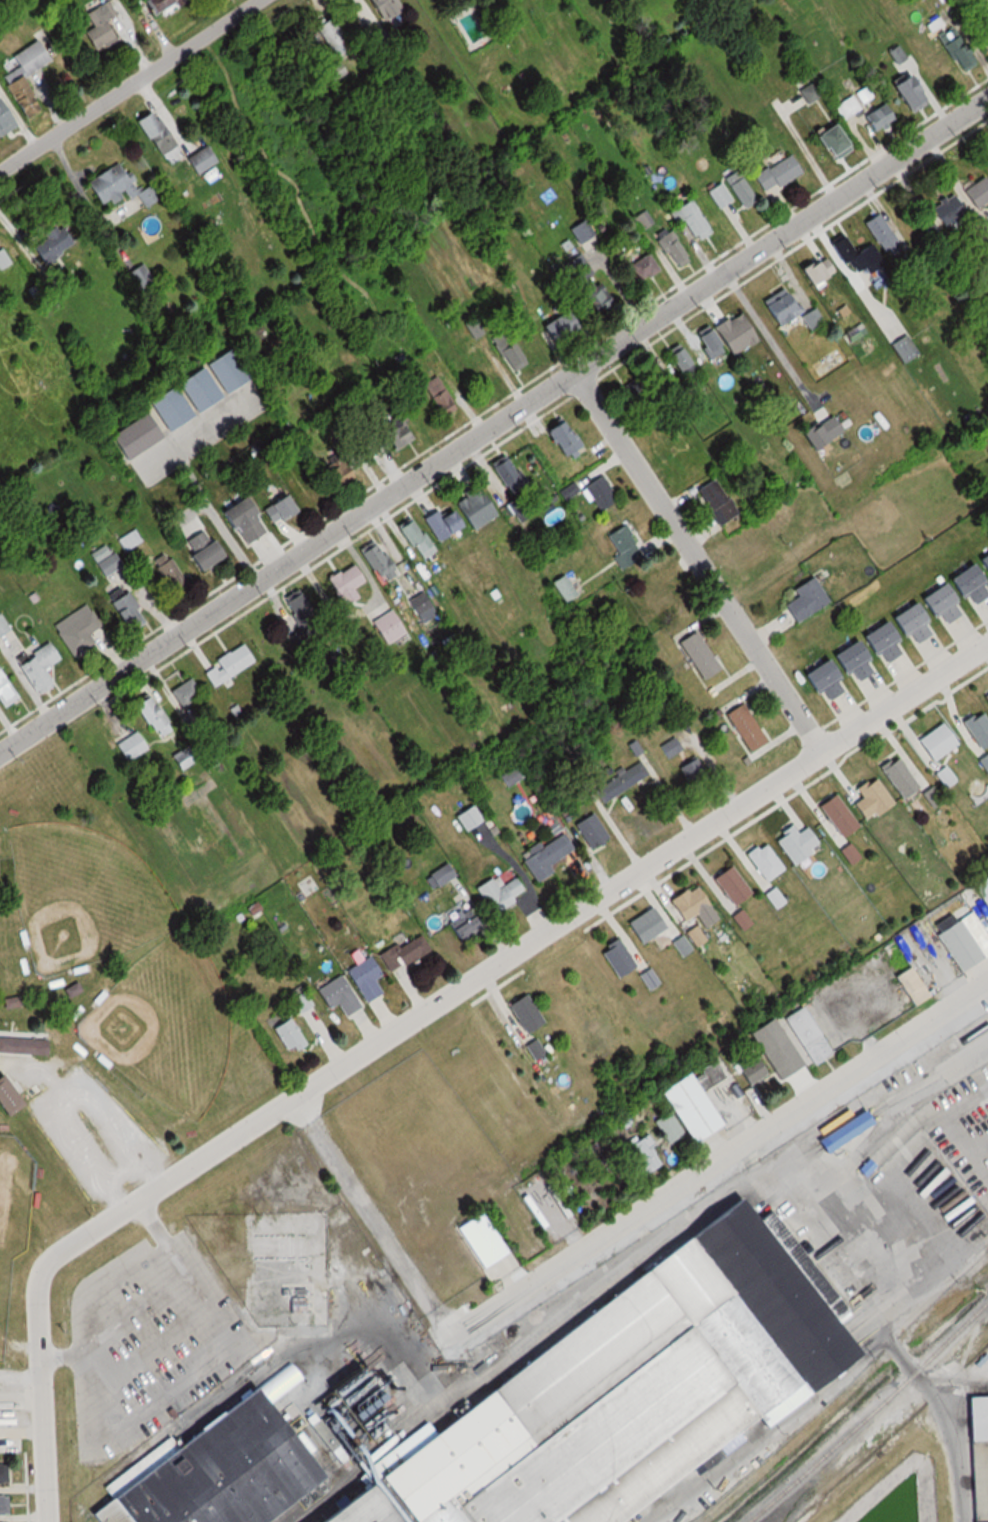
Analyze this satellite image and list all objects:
building: (987, 3)
building: (159, 5)
building: (382, 7)
building: (984, 22)
building: (98, 25)
building: (329, 34)
building: (955, 49)
building: (334, 71)
building: (24, 72)
road: (126, 83)
building: (904, 93)
building: (845, 108)
building: (876, 117)
building: (4, 119)
building: (155, 134)
building: (828, 141)
building: (198, 159)
building: (775, 173)
building: (115, 187)
building: (739, 189)
building: (976, 192)
building: (718, 195)
building: (947, 210)
building: (688, 217)
building: (581, 230)
building: (881, 234)
building: (50, 245)
building: (670, 249)
building: (856, 257)
building: (3, 259)
building: (641, 267)
building: (814, 269)
building: (584, 282)
building: (786, 310)
building: (724, 336)
road: (766, 337)
building: (903, 348)
building: (507, 351)
building: (679, 361)
building: (432, 398)
building: (181, 402)
road: (495, 426)
building: (394, 432)
building: (817, 432)
building: (562, 438)
building: (335, 474)
building: (506, 476)
building: (598, 493)
building: (714, 501)
building: (276, 509)
building: (460, 513)
building: (240, 521)
building: (414, 538)
building: (623, 546)
building: (200, 550)
building: (105, 561)
road: (700, 561)
building: (983, 563)
building: (382, 569)
building: (168, 574)
building: (344, 583)
building: (562, 587)
building: (654, 593)
building: (804, 599)
building: (295, 605)
building: (124, 611)
building: (922, 612)
building: (1, 624)
building: (386, 626)
building: (75, 630)
building: (696, 654)
building: (226, 665)
building: (36, 667)
building: (835, 670)
building: (183, 692)
building: (5, 693)
building: (986, 697)
building: (150, 715)
building: (743, 726)
building: (977, 729)
building: (933, 742)
building: (129, 747)
building: (668, 748)
building: (983, 762)
building: (691, 771)
building: (897, 777)
building: (943, 777)
building: (619, 782)
building: (869, 799)
building: (835, 816)
building: (466, 818)
building: (589, 830)
building: (794, 843)
building: (545, 856)
building: (762, 861)
building: (728, 884)
building: (309, 885)
building: (981, 890)
building: (497, 894)
building: (771, 897)
building: (685, 902)
park: (80, 903)
building: (739, 919)
building: (461, 923)
building: (644, 925)
building: (692, 936)
building: (963, 942)
building: (679, 945)
building: (402, 951)
building: (614, 958)
building: (362, 978)
building: (646, 979)
building: (914, 991)
building: (336, 995)
building: (297, 998)
building: (9, 1002)
park: (106, 1014)
building: (521, 1014)
road: (407, 1023)
park: (165, 1032)
building: (285, 1034)
building: (805, 1035)
building: (770, 1049)
building: (533, 1050)
building: (23, 1053)
building: (747, 1070)
road: (61, 1100)
building: (8, 1102)
building: (681, 1111)
building: (643, 1155)
road: (722, 1158)
road: (148, 1176)
road: (782, 1177)
road: (121, 1178)
road: (111, 1202)
road: (374, 1217)
park: (12, 1218)
road: (166, 1236)
building: (479, 1241)
road: (119, 1323)
road: (287, 1352)
building: (639, 1394)
railway: (873, 1418)
building: (978, 1457)
building: (5, 1474)
building: (233, 1477)
building: (7, 1506)
building: (346, 1510)

